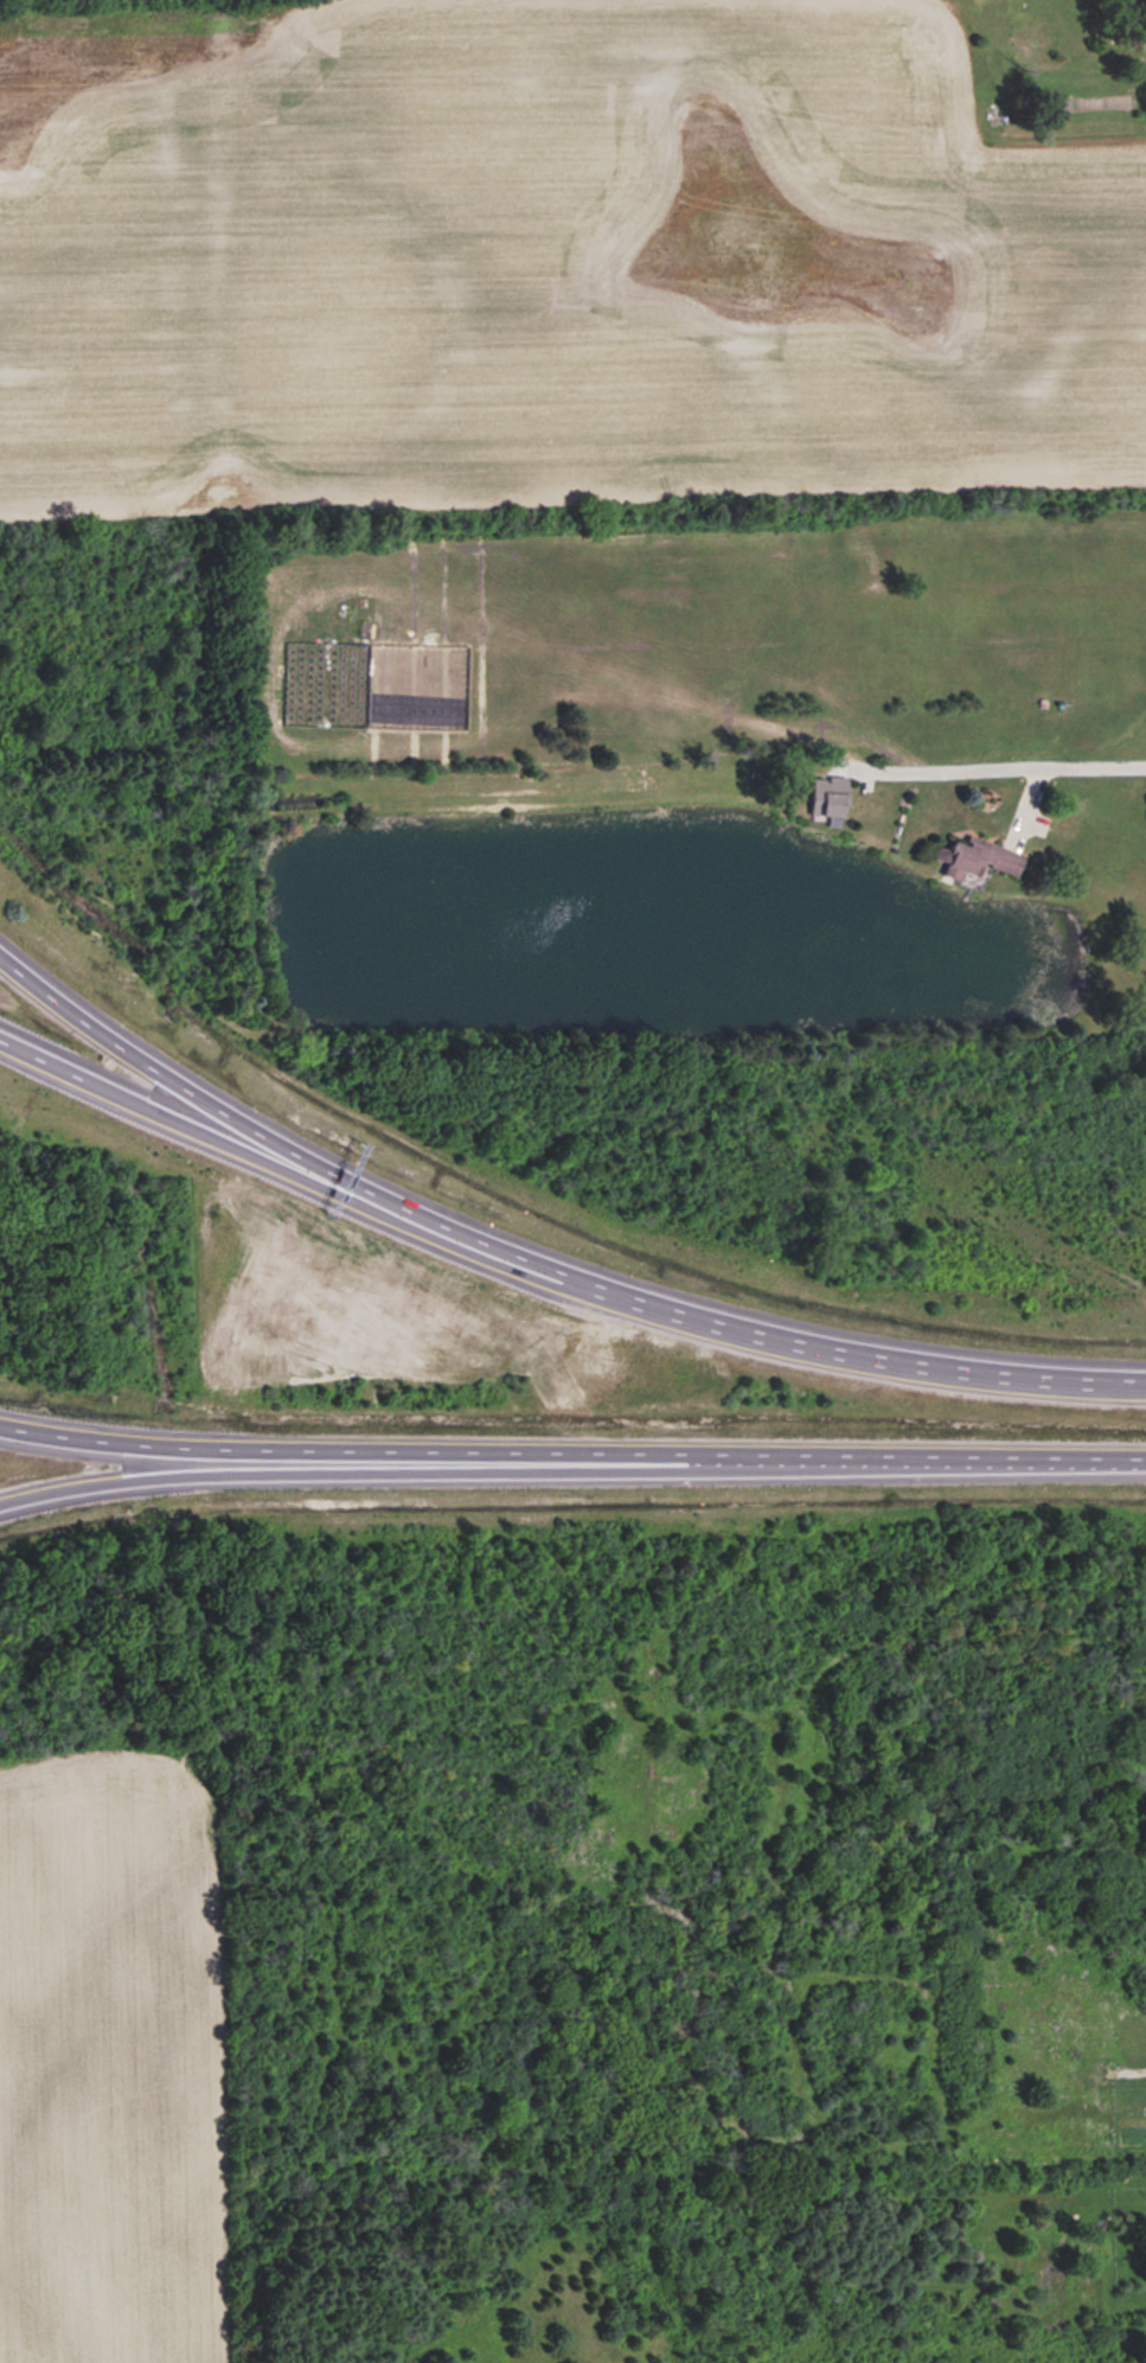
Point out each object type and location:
road: (988, 768)
building: (828, 798)
building: (978, 861)
road: (59, 1069)
road: (275, 1143)
road: (344, 1198)
road: (857, 1354)
road: (476, 1451)
road: (1050, 1456)
road: (475, 1464)

